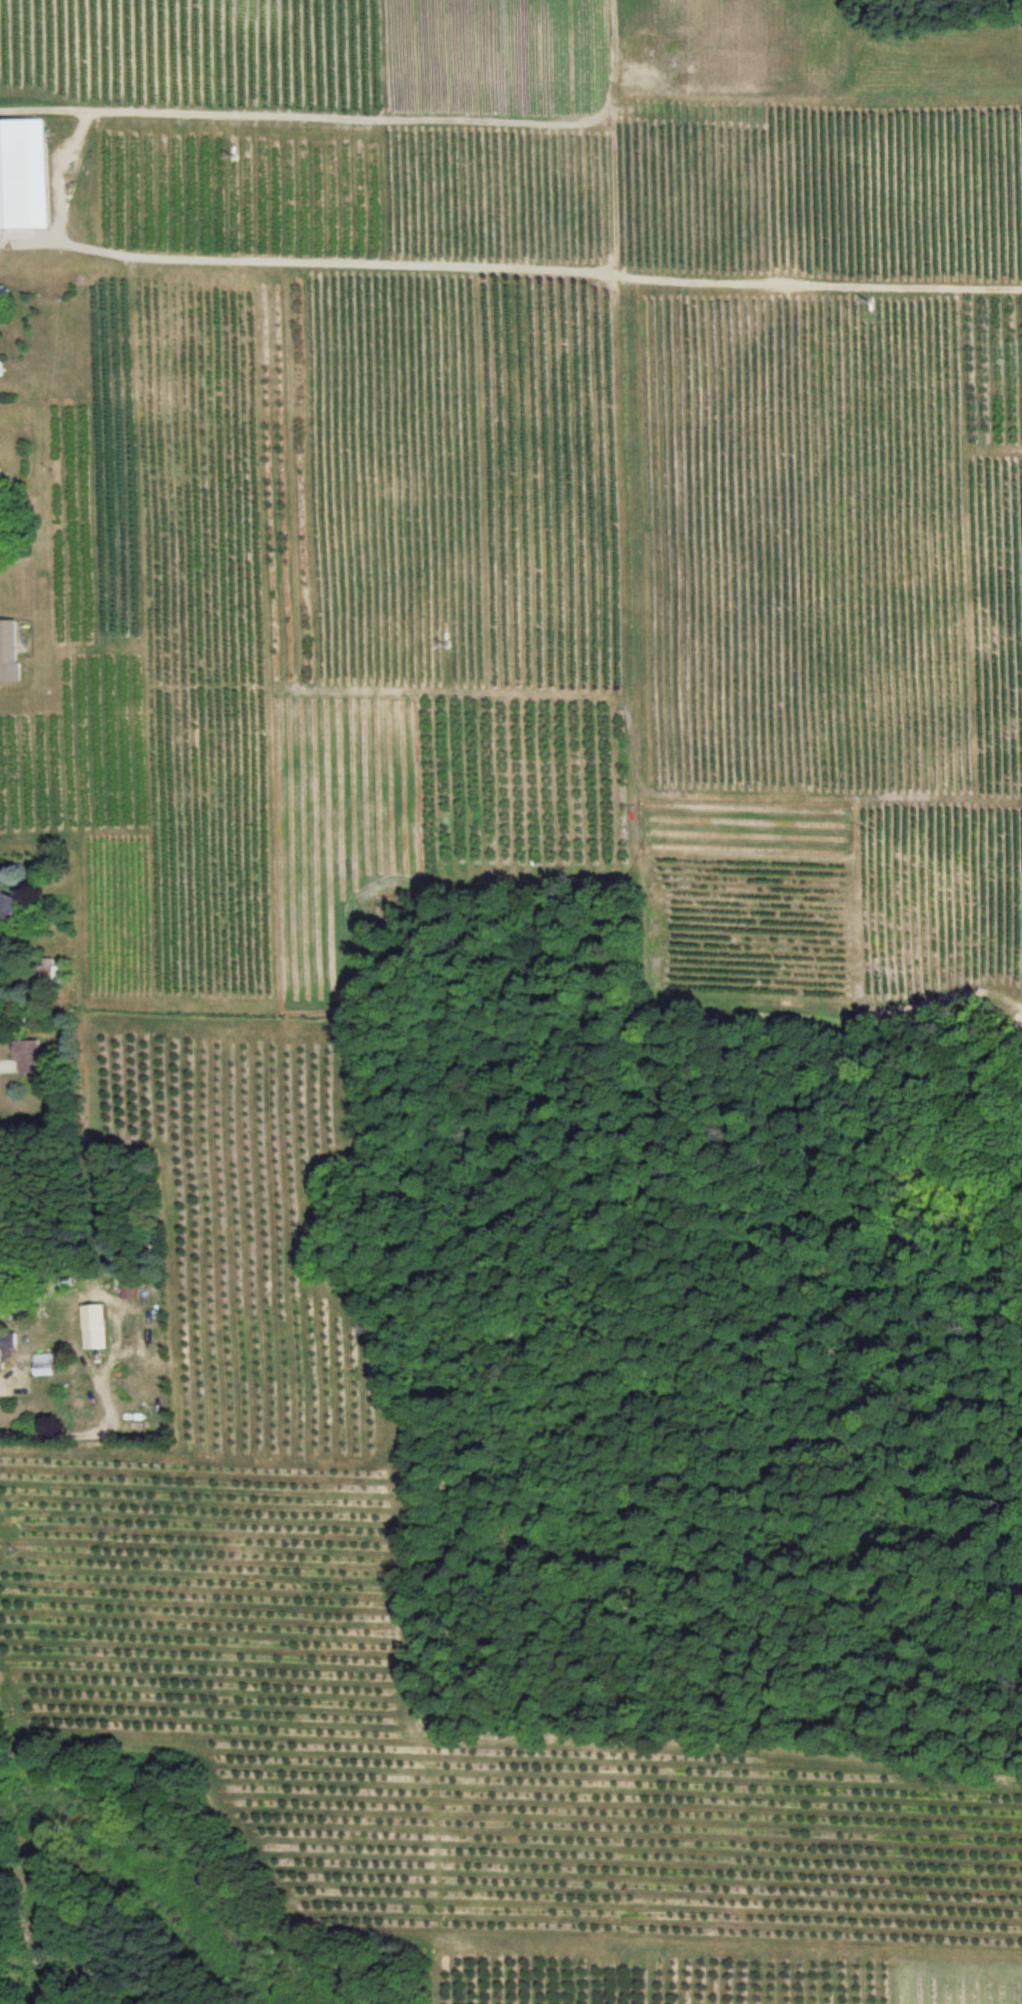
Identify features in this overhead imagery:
building: (24, 178)
building: (1, 294)
building: (1, 371)
building: (10, 651)
building: (11, 909)
building: (31, 1059)
building: (47, 1366)
building: (3, 1473)

